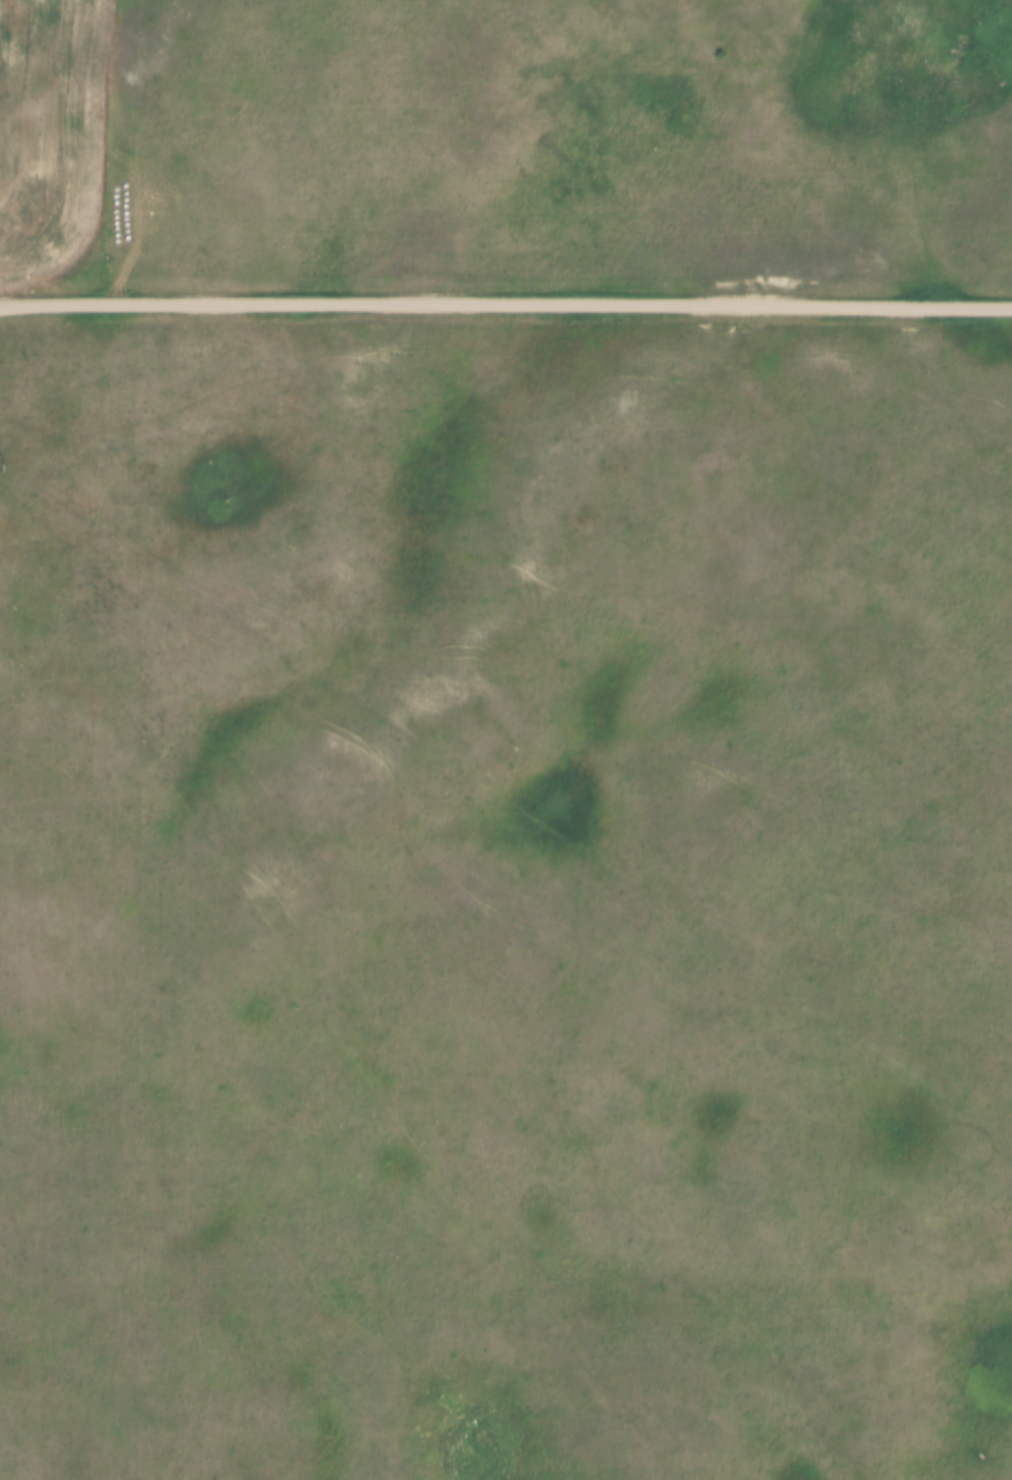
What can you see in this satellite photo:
road: (506, 301)

